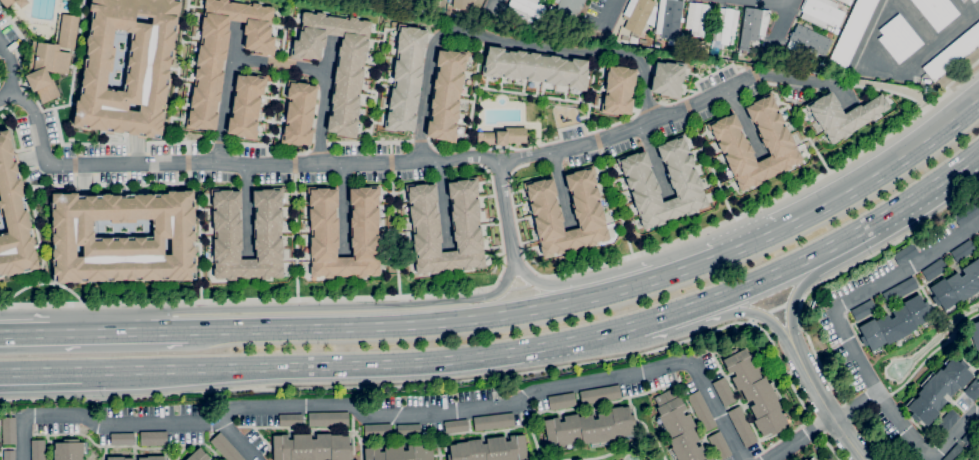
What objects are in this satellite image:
building: (974, 0)
road: (500, 1)
building: (556, 1)
building: (847, 1)
road: (779, 2)
building: (462, 4)
building: (21, 5)
building: (569, 7)
road: (963, 7)
building: (525, 8)
road: (611, 11)
building: (822, 12)
building: (937, 12)
building: (639, 15)
building: (549, 16)
road: (786, 17)
building: (699, 18)
building: (669, 20)
road: (914, 22)
building: (725, 24)
building: (753, 25)
building: (538, 27)
building: (852, 33)
building: (829, 34)
building: (899, 38)
building: (808, 42)
road: (506, 43)
building: (656, 45)
building: (224, 53)
building: (953, 54)
building: (51, 60)
road: (75, 60)
building: (338, 63)
building: (127, 66)
road: (279, 66)
building: (536, 67)
road: (897, 70)
road: (177, 71)
building: (407, 77)
building: (668, 79)
building: (618, 89)
road: (225, 93)
road: (5, 95)
building: (447, 95)
road: (324, 99)
building: (246, 106)
building: (299, 114)
building: (843, 115)
road: (745, 123)
building: (503, 137)
building: (777, 142)
road: (161, 143)
road: (655, 161)
road: (392, 162)
road: (883, 171)
building: (641, 181)
road: (925, 187)
road: (561, 189)
road: (444, 204)
road: (343, 208)
road: (246, 209)
road: (505, 211)
building: (588, 213)
building: (967, 213)
building: (14, 215)
building: (425, 224)
road: (715, 225)
building: (173, 230)
building: (365, 233)
building: (268, 234)
building: (978, 234)
building: (963, 250)
building: (905, 254)
road: (698, 264)
building: (934, 269)
road: (520, 287)
road: (558, 287)
road: (799, 287)
building: (957, 287)
building: (900, 291)
road: (312, 298)
road: (568, 302)
road: (321, 307)
building: (863, 310)
road: (716, 318)
building: (895, 324)
road: (356, 327)
road: (805, 329)
road: (118, 332)
road: (24, 334)
building: (974, 336)
road: (850, 344)
road: (447, 360)
road: (461, 380)
building: (972, 389)
building: (938, 390)
building: (756, 391)
building: (724, 392)
building: (600, 395)
road: (822, 400)
building: (561, 401)
road: (854, 405)
building: (978, 405)
building: (701, 410)
road: (387, 417)
building: (328, 419)
building: (290, 420)
building: (493, 421)
building: (947, 422)
building: (456, 426)
building: (742, 426)
building: (590, 428)
building: (679, 428)
building: (9, 430)
building: (408, 430)
building: (377, 431)
building: (153, 438)
road: (237, 438)
building: (969, 438)
building: (122, 439)
road: (803, 440)
building: (719, 445)
building: (312, 447)
building: (225, 448)
building: (70, 449)
building: (490, 449)
building: (38, 450)
building: (399, 453)
building: (955, 453)
building: (9, 455)
building: (198, 455)
building: (152, 457)
building: (118, 458)
building: (811, 458)
building: (804, 459)
building: (968, 459)

